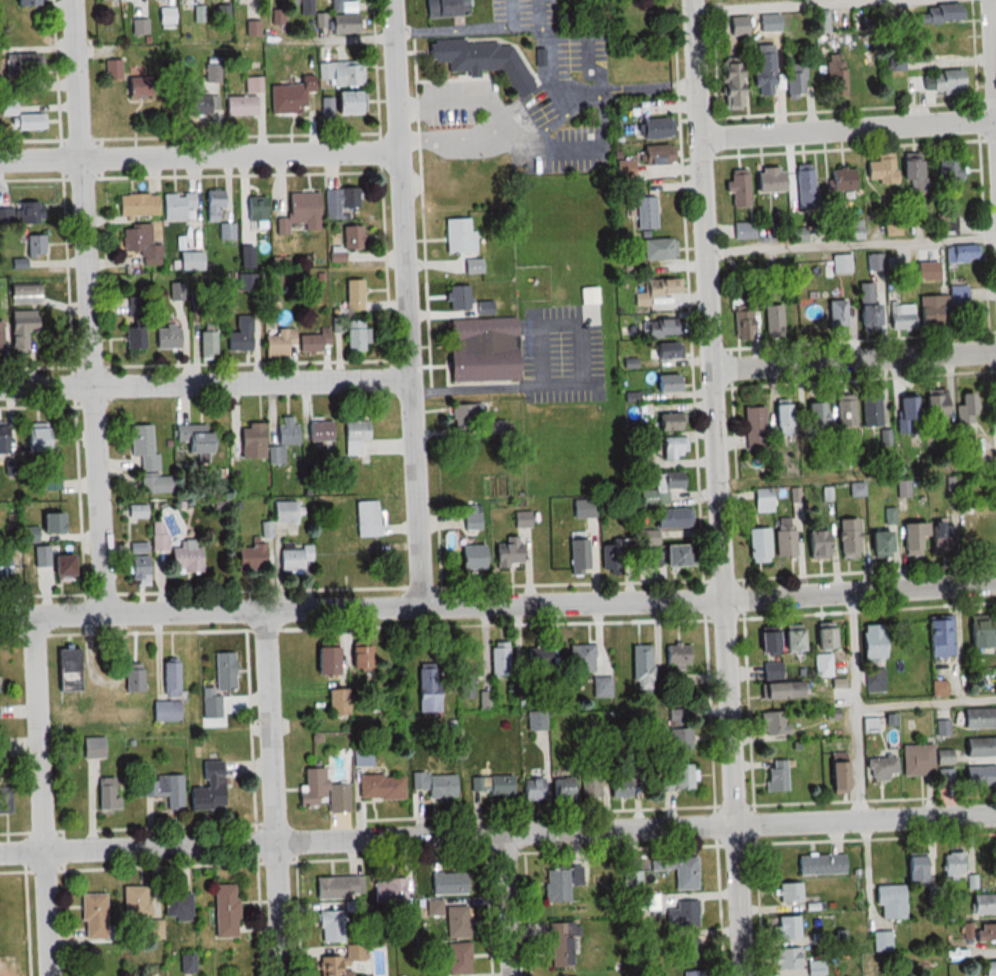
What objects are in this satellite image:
building: (22, 2)
building: (306, 6)
building: (348, 6)
building: (445, 8)
building: (223, 13)
building: (941, 13)
building: (166, 17)
road: (994, 18)
building: (820, 21)
building: (341, 23)
building: (738, 26)
building: (480, 60)
building: (21, 63)
building: (765, 70)
building: (211, 72)
building: (340, 73)
building: (833, 75)
building: (124, 78)
building: (795, 79)
building: (934, 82)
building: (252, 84)
building: (730, 84)
building: (289, 96)
building: (200, 103)
building: (341, 103)
building: (240, 105)
building: (20, 115)
building: (655, 128)
road: (848, 129)
road: (200, 155)
building: (657, 155)
building: (880, 169)
building: (949, 171)
building: (909, 172)
building: (842, 179)
building: (767, 180)
building: (737, 188)
building: (804, 189)
building: (343, 204)
building: (136, 205)
building: (177, 205)
building: (256, 209)
building: (21, 213)
building: (218, 213)
building: (644, 213)
building: (299, 214)
building: (892, 227)
building: (855, 230)
building: (743, 231)
building: (797, 235)
building: (458, 237)
building: (140, 243)
building: (35, 246)
building: (657, 249)
building: (961, 254)
building: (189, 261)
building: (798, 263)
building: (875, 263)
building: (842, 264)
building: (473, 266)
building: (246, 282)
building: (655, 291)
building: (23, 295)
building: (353, 296)
building: (458, 298)
road: (408, 303)
building: (865, 306)
building: (940, 306)
road: (90, 307)
building: (591, 315)
building: (835, 317)
building: (900, 318)
building: (805, 320)
building: (772, 321)
building: (743, 325)
building: (21, 326)
building: (658, 329)
building: (133, 335)
building: (239, 336)
building: (356, 336)
building: (166, 337)
building: (206, 339)
building: (0, 342)
building: (313, 342)
building: (277, 343)
building: (484, 347)
building: (663, 352)
road: (855, 359)
road: (206, 383)
building: (665, 383)
building: (934, 407)
building: (966, 408)
building: (870, 411)
building: (844, 413)
building: (460, 415)
building: (907, 415)
building: (816, 418)
building: (783, 419)
building: (669, 422)
building: (754, 427)
building: (319, 431)
building: (354, 436)
building: (34, 438)
building: (283, 439)
building: (4, 441)
building: (198, 442)
building: (250, 442)
building: (143, 447)
building: (672, 447)
building: (51, 482)
building: (661, 487)
road: (719, 487)
building: (856, 489)
building: (762, 500)
building: (136, 511)
building: (586, 512)
building: (671, 518)
building: (366, 519)
building: (471, 522)
building: (43, 527)
building: (967, 532)
building: (158, 535)
building: (937, 537)
building: (847, 538)
building: (911, 538)
building: (783, 539)
building: (876, 543)
building: (757, 545)
building: (814, 545)
building: (138, 548)
building: (506, 553)
building: (608, 556)
building: (674, 556)
building: (249, 557)
building: (470, 557)
building: (578, 557)
building: (184, 560)
building: (293, 560)
building: (52, 564)
building: (6, 570)
building: (137, 570)
road: (498, 605)
building: (977, 634)
building: (937, 637)
building: (821, 639)
building: (789, 641)
building: (871, 643)
building: (766, 645)
building: (359, 658)
building: (676, 658)
building: (498, 659)
building: (580, 660)
building: (323, 662)
building: (537, 663)
building: (822, 666)
building: (641, 667)
building: (772, 670)
building: (223, 671)
building: (133, 678)
building: (169, 680)
building: (875, 681)
building: (465, 685)
building: (938, 688)
building: (426, 691)
building: (779, 691)
building: (338, 702)
building: (210, 708)
road: (870, 709)
building: (165, 711)
building: (978, 718)
building: (536, 721)
building: (771, 724)
building: (869, 725)
building: (678, 739)
building: (978, 747)
building: (2, 748)
building: (91, 748)
building: (944, 757)
building: (916, 760)
building: (881, 769)
building: (776, 776)
building: (977, 776)
building: (678, 778)
building: (834, 778)
building: (588, 784)
building: (436, 785)
building: (493, 786)
building: (380, 787)
building: (619, 787)
building: (208, 788)
building: (562, 788)
building: (532, 789)
building: (164, 790)
building: (323, 792)
road: (273, 793)
building: (106, 794)
road: (42, 795)
building: (4, 800)
road: (498, 834)
building: (953, 862)
building: (820, 864)
building: (915, 870)
building: (678, 871)
building: (631, 881)
building: (448, 884)
building: (556, 885)
building: (338, 887)
building: (389, 890)
building: (789, 892)
building: (134, 901)
building: (890, 902)
building: (176, 903)
building: (647, 903)
building: (983, 904)
road: (508, 905)
building: (436, 908)
building: (223, 911)
building: (682, 914)
building: (93, 916)
building: (456, 921)
building: (330, 926)
building: (785, 928)
building: (154, 929)
building: (985, 933)
building: (881, 942)
building: (560, 945)
building: (688, 951)
building: (786, 959)
building: (453, 961)
building: (340, 962)
building: (814, 968)
building: (988, 969)
building: (692, 973)

